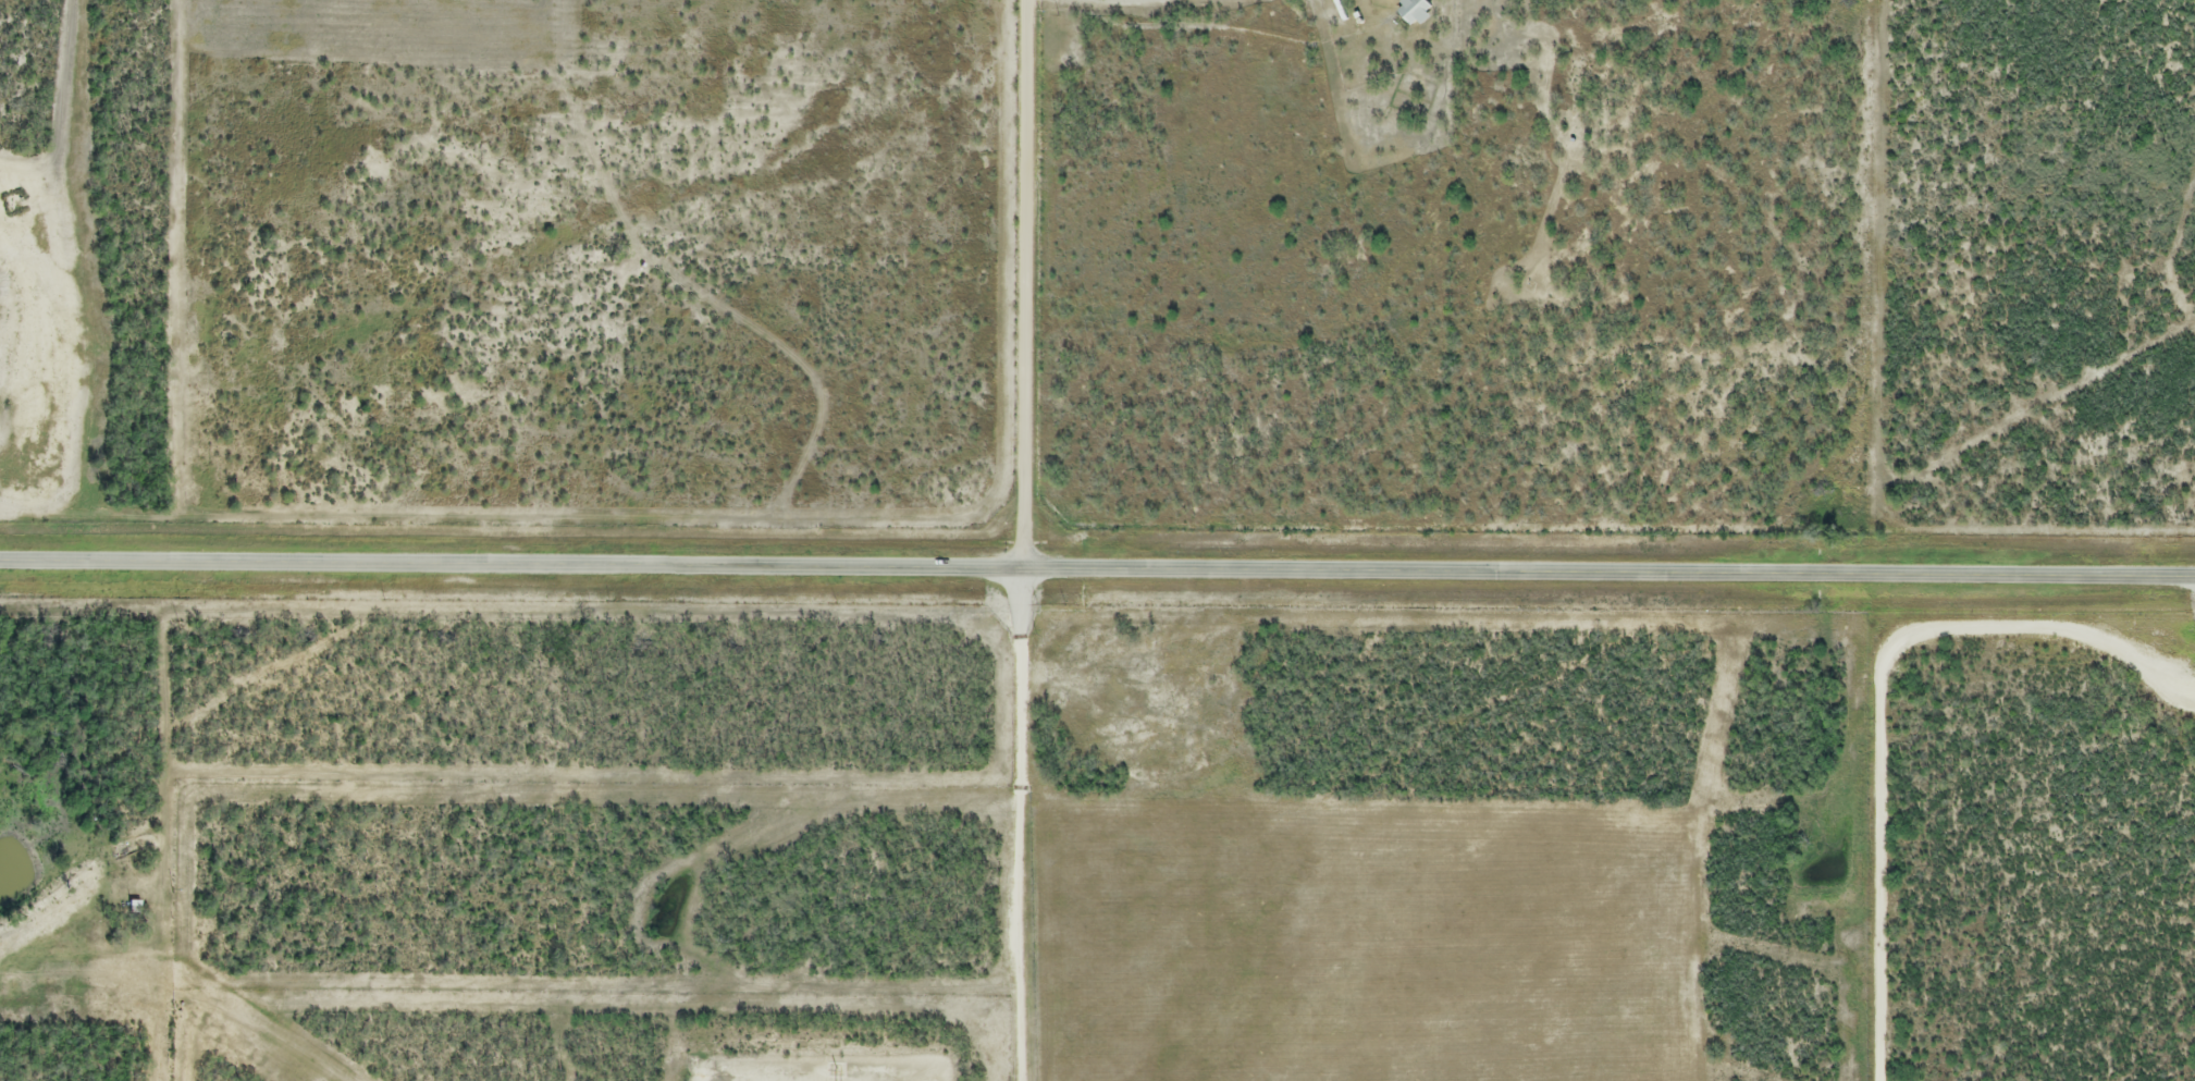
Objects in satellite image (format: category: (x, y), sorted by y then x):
road: (1132, 0)
building: (1414, 12)
road: (1023, 287)
road: (1097, 575)
road: (1876, 695)
road: (1004, 827)

